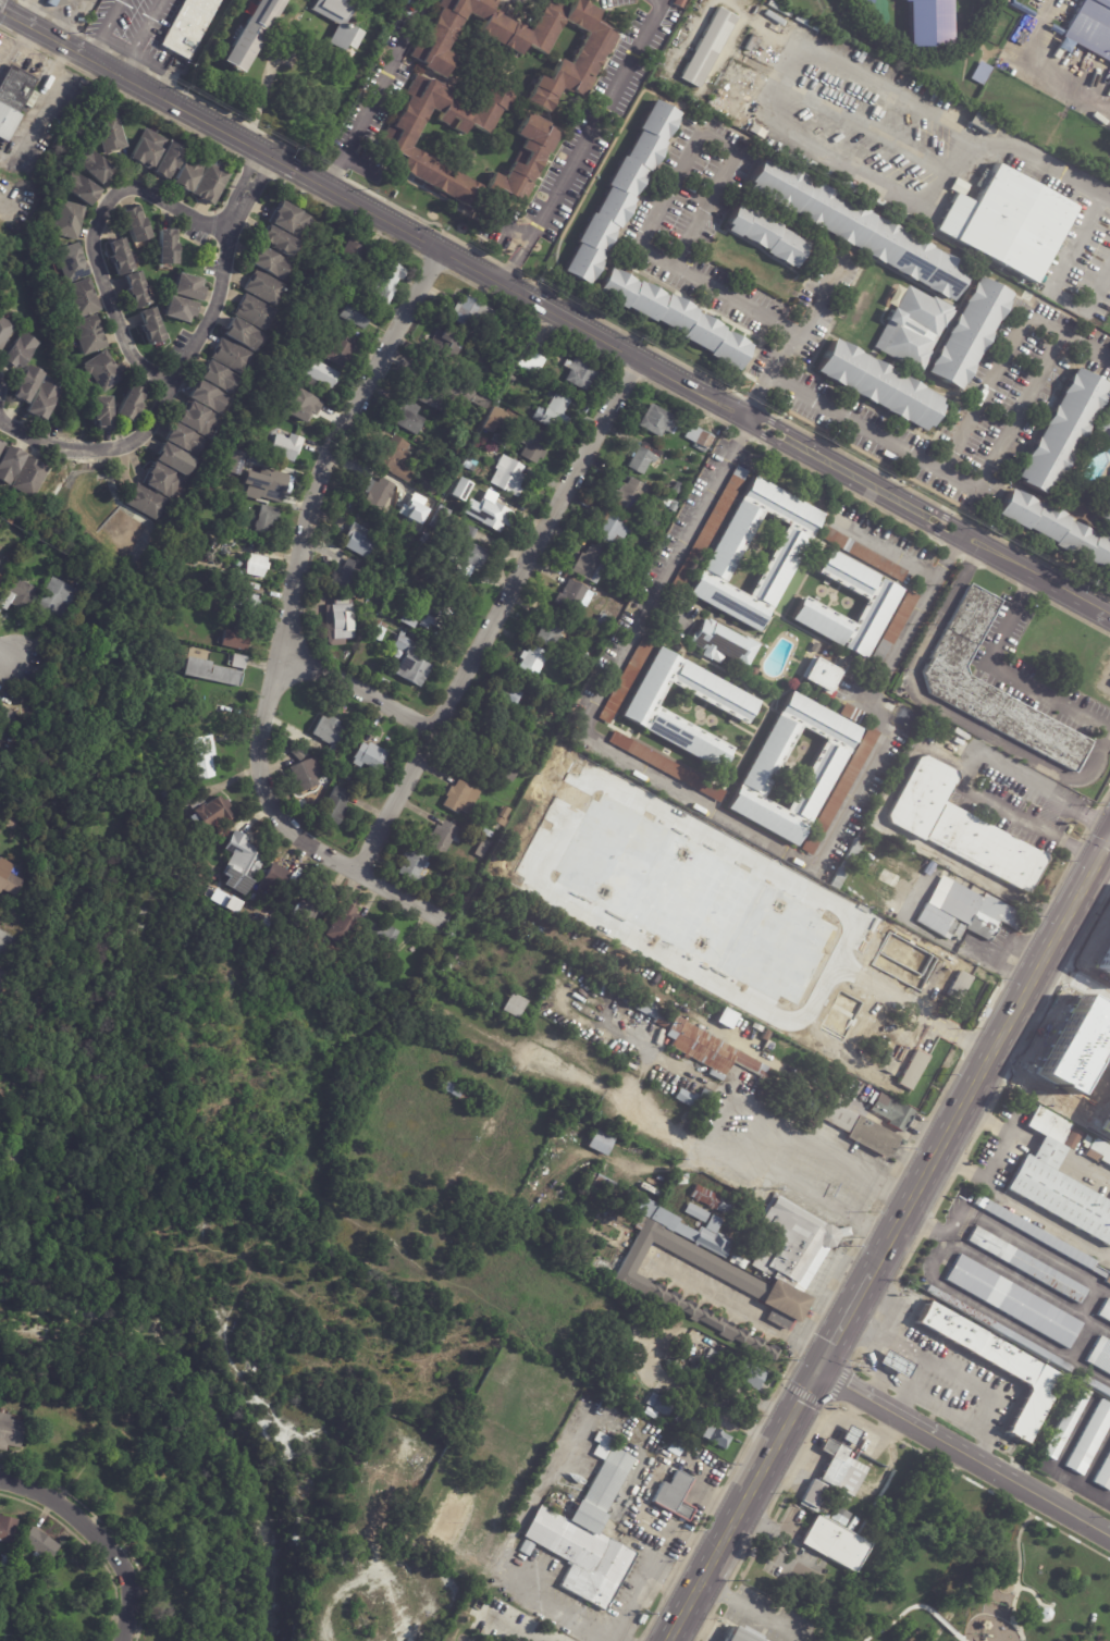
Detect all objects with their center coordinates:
building: (867, 0)
building: (54, 1)
building: (49, 2)
building: (679, 3)
building: (1021, 7)
building: (779, 9)
building: (927, 21)
building: (335, 22)
building: (1025, 23)
building: (806, 24)
building: (1093, 25)
building: (187, 26)
building: (1022, 28)
building: (1054, 28)
building: (249, 34)
road: (141, 37)
building: (523, 44)
building: (1063, 45)
road: (16, 47)
building: (1013, 47)
building: (706, 48)
building: (1010, 52)
building: (337, 63)
road: (1040, 65)
building: (1014, 71)
road: (386, 73)
building: (978, 73)
road: (775, 84)
road: (261, 95)
building: (12, 98)
building: (30, 100)
road: (600, 114)
road: (955, 121)
building: (982, 124)
building: (756, 132)
building: (109, 134)
building: (396, 143)
building: (146, 149)
building: (168, 160)
road: (847, 163)
building: (92, 165)
building: (13, 166)
road: (336, 166)
road: (946, 171)
road: (255, 172)
building: (187, 174)
building: (209, 185)
building: (81, 187)
building: (959, 187)
building: (861, 192)
building: (619, 195)
building: (288, 220)
building: (67, 221)
building: (1021, 223)
building: (135, 225)
building: (858, 230)
road: (644, 237)
building: (766, 237)
road: (97, 243)
building: (275, 243)
building: (208, 249)
building: (166, 250)
building: (353, 251)
road: (518, 256)
building: (120, 258)
building: (71, 263)
building: (267, 264)
road: (1057, 281)
building: (385, 282)
building: (187, 288)
building: (262, 288)
building: (136, 291)
road: (821, 296)
building: (82, 299)
building: (180, 310)
building: (251, 313)
building: (355, 313)
building: (470, 313)
road: (553, 313)
building: (674, 319)
building: (151, 328)
building: (4, 332)
building: (88, 335)
building: (240, 335)
building: (969, 335)
building: (448, 342)
building: (899, 344)
road: (1085, 344)
building: (17, 351)
building: (335, 353)
building: (231, 357)
building: (530, 362)
building: (102, 371)
building: (317, 372)
building: (579, 374)
building: (543, 375)
building: (511, 379)
building: (217, 380)
building: (551, 383)
building: (25, 384)
building: (879, 387)
road: (171, 391)
building: (442, 394)
building: (206, 398)
building: (41, 403)
building: (129, 405)
building: (296, 405)
building: (102, 412)
building: (553, 415)
building: (408, 418)
road: (1013, 418)
building: (657, 420)
building: (195, 421)
building: (1105, 422)
building: (489, 428)
building: (1063, 430)
building: (480, 434)
building: (698, 437)
building: (182, 442)
building: (531, 445)
building: (1, 446)
building: (286, 447)
building: (642, 457)
building: (171, 460)
building: (393, 460)
building: (232, 461)
building: (9, 465)
building: (441, 467)
building: (507, 478)
building: (27, 479)
building: (160, 483)
building: (268, 485)
building: (675, 486)
building: (453, 492)
building: (629, 494)
building: (377, 495)
building: (479, 499)
building: (662, 499)
building: (144, 503)
building: (673, 506)
building: (412, 508)
building: (1106, 509)
building: (390, 511)
building: (270, 516)
building: (497, 516)
building: (439, 521)
building: (415, 522)
building: (609, 527)
building: (1057, 528)
building: (707, 530)
building: (422, 538)
building: (356, 542)
building: (863, 553)
road: (889, 553)
building: (465, 555)
building: (631, 556)
building: (719, 562)
building: (590, 563)
building: (255, 567)
building: (0, 576)
building: (0, 578)
building: (347, 578)
building: (16, 596)
building: (571, 596)
building: (53, 600)
road: (928, 605)
building: (247, 606)
building: (610, 607)
building: (812, 609)
building: (429, 614)
road: (291, 616)
road: (497, 617)
building: (603, 620)
building: (338, 622)
building: (895, 627)
building: (601, 629)
building: (379, 630)
building: (550, 632)
building: (234, 640)
building: (723, 643)
building: (814, 646)
road: (4, 658)
building: (531, 659)
building: (235, 663)
building: (410, 664)
building: (753, 670)
building: (210, 675)
building: (822, 675)
road: (1007, 676)
building: (625, 680)
building: (383, 682)
building: (957, 686)
building: (206, 688)
building: (505, 693)
road: (358, 695)
building: (222, 701)
building: (643, 710)
road: (948, 712)
building: (853, 714)
building: (4, 719)
building: (326, 732)
building: (296, 754)
building: (203, 756)
building: (368, 756)
building: (467, 758)
building: (765, 764)
building: (666, 766)
building: (332, 770)
road: (644, 770)
building: (506, 772)
building: (303, 775)
building: (345, 777)
road: (897, 780)
building: (178, 790)
building: (841, 791)
building: (459, 798)
building: (334, 806)
building: (206, 811)
road: (1019, 815)
building: (502, 817)
building: (10, 824)
building: (959, 827)
building: (486, 832)
building: (442, 836)
building: (849, 859)
building: (239, 862)
building: (412, 865)
building: (876, 871)
building: (8, 878)
building: (273, 879)
building: (230, 906)
building: (306, 911)
building: (969, 914)
building: (844, 918)
building: (341, 924)
building: (380, 935)
building: (826, 947)
road: (20, 950)
road: (1003, 951)
building: (483, 961)
building: (811, 977)
building: (0, 982)
building: (959, 986)
building: (20, 989)
building: (789, 996)
building: (513, 1007)
building: (725, 1017)
building: (789, 1027)
building: (687, 1037)
road: (990, 1056)
building: (913, 1071)
building: (1066, 1071)
building: (456, 1090)
building: (693, 1100)
building: (893, 1114)
building: (1072, 1114)
road: (716, 1122)
building: (557, 1125)
building: (859, 1130)
building: (1072, 1137)
building: (601, 1143)
building: (1095, 1149)
road: (1003, 1152)
building: (680, 1180)
building: (1059, 1183)
building: (712, 1200)
building: (695, 1213)
building: (664, 1218)
road: (1046, 1219)
road: (927, 1222)
building: (1040, 1236)
road: (1026, 1244)
railway: (896, 1248)
building: (1027, 1264)
building: (791, 1276)
building: (923, 1276)
building: (1014, 1301)
road: (741, 1310)
building: (1105, 1310)
road: (1001, 1318)
road: (843, 1320)
building: (999, 1328)
building: (731, 1354)
building: (1100, 1354)
park: (166, 1358)
building: (712, 1359)
gas station: (890, 1362)
building: (893, 1364)
building: (997, 1365)
road: (917, 1369)
road: (957, 1369)
traffic signals: (817, 1370)
building: (705, 1373)
building: (747, 1375)
road: (896, 1379)
building: (1097, 1384)
building: (659, 1404)
building: (688, 1420)
building: (1068, 1422)
building: (10, 1431)
building: (850, 1434)
building: (717, 1436)
building: (1090, 1439)
road: (963, 1453)
building: (842, 1469)
building: (1103, 1473)
road: (1075, 1481)
road: (654, 1483)
building: (814, 1494)
building: (674, 1497)
road: (743, 1505)
building: (840, 1516)
building: (7, 1528)
building: (589, 1531)
road: (100, 1535)
building: (38, 1543)
building: (834, 1543)
building: (527, 1547)
building: (17, 1557)
building: (3, 1563)
park: (967, 1572)
road: (633, 1597)
road: (563, 1608)
road: (751, 1608)
building: (741, 1634)
building: (720, 1640)

